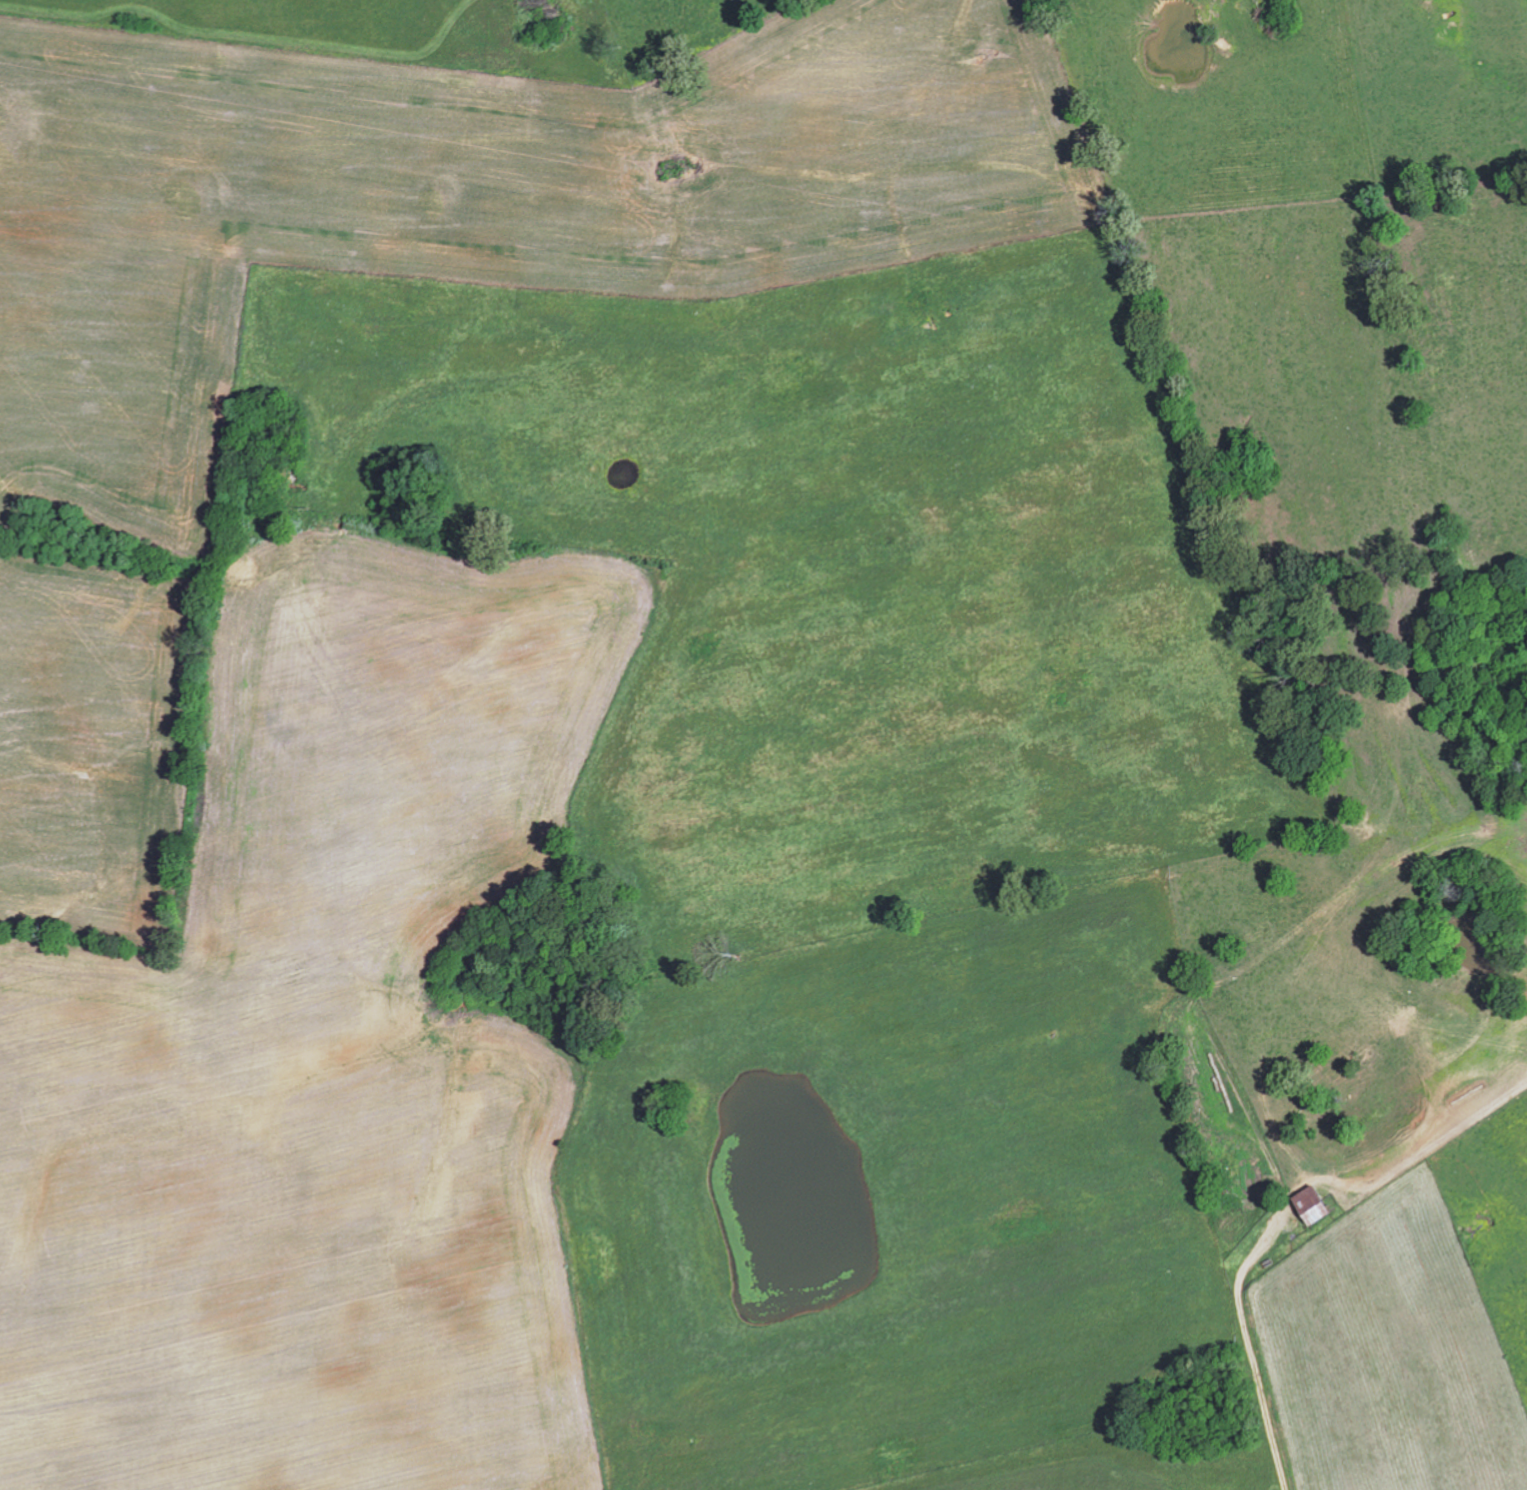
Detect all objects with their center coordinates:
road: (1261, 1392)

